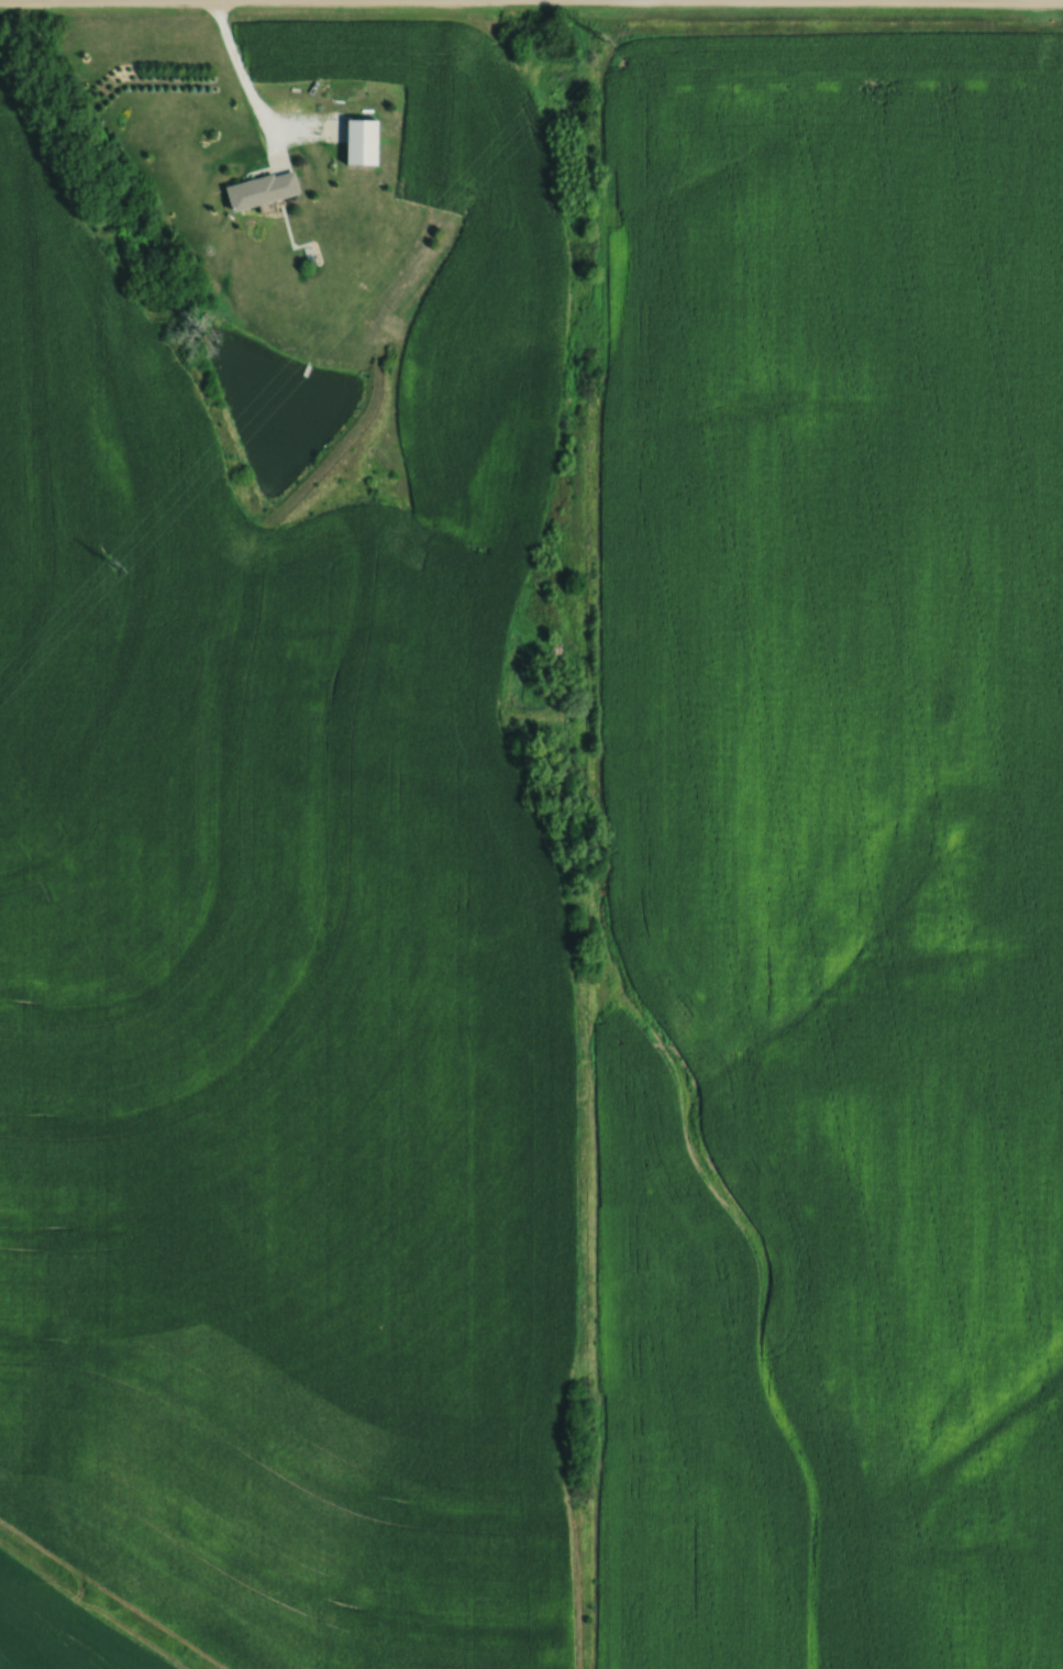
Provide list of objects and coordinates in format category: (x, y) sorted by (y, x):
road: (531, 2)
power tower: (606, 41)
road: (246, 80)
building: (366, 139)
building: (266, 187)
power tower: (113, 562)

